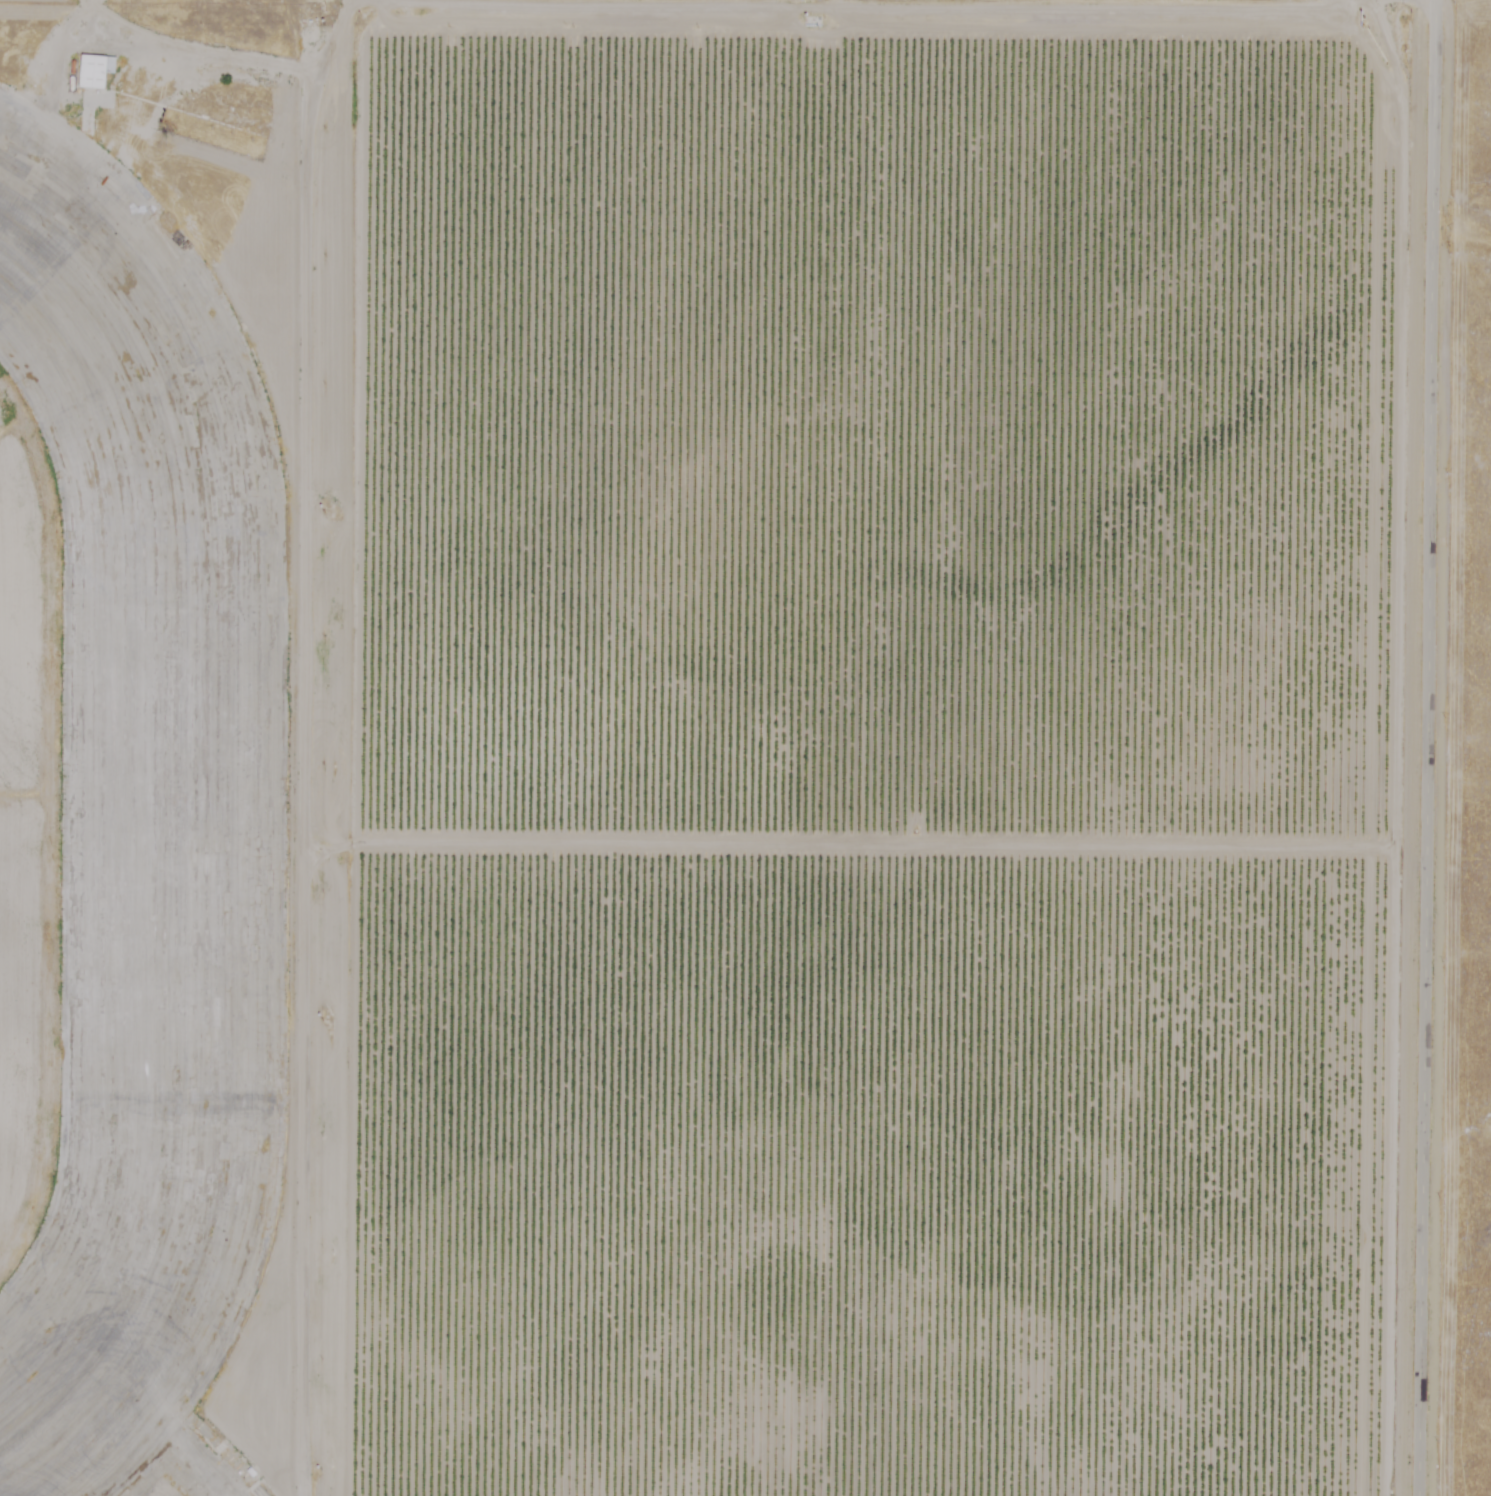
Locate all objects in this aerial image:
building: (90, 68)
road: (339, 747)
road: (1422, 747)

